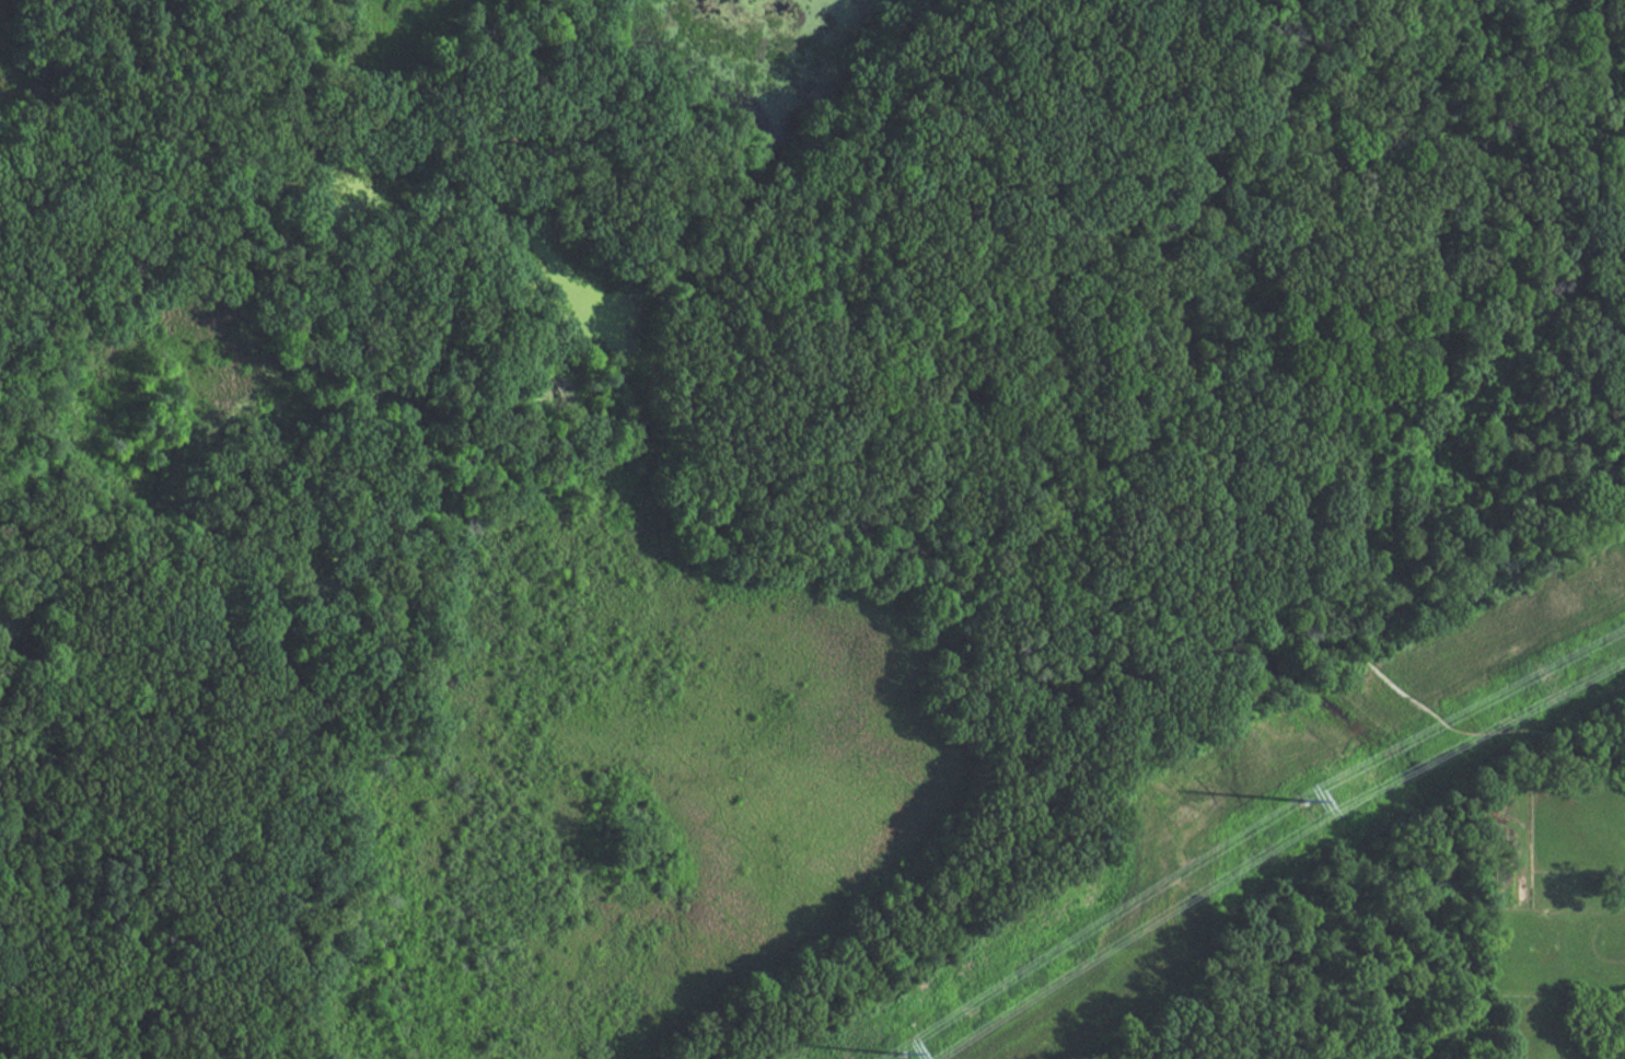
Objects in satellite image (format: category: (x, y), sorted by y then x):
road: (1424, 40)
road: (93, 198)
road: (871, 337)
park: (794, 520)
power tower: (1305, 806)

